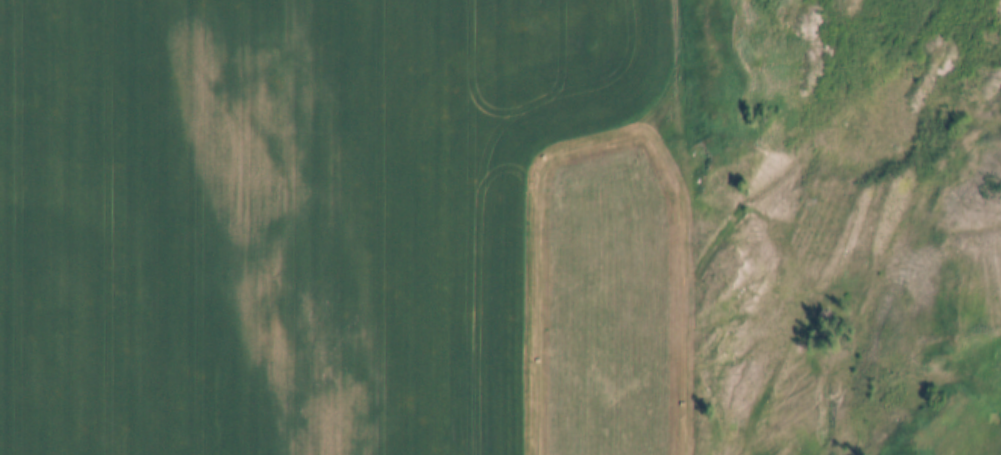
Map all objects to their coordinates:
road: (539, 177)
quarry: (842, 225)

